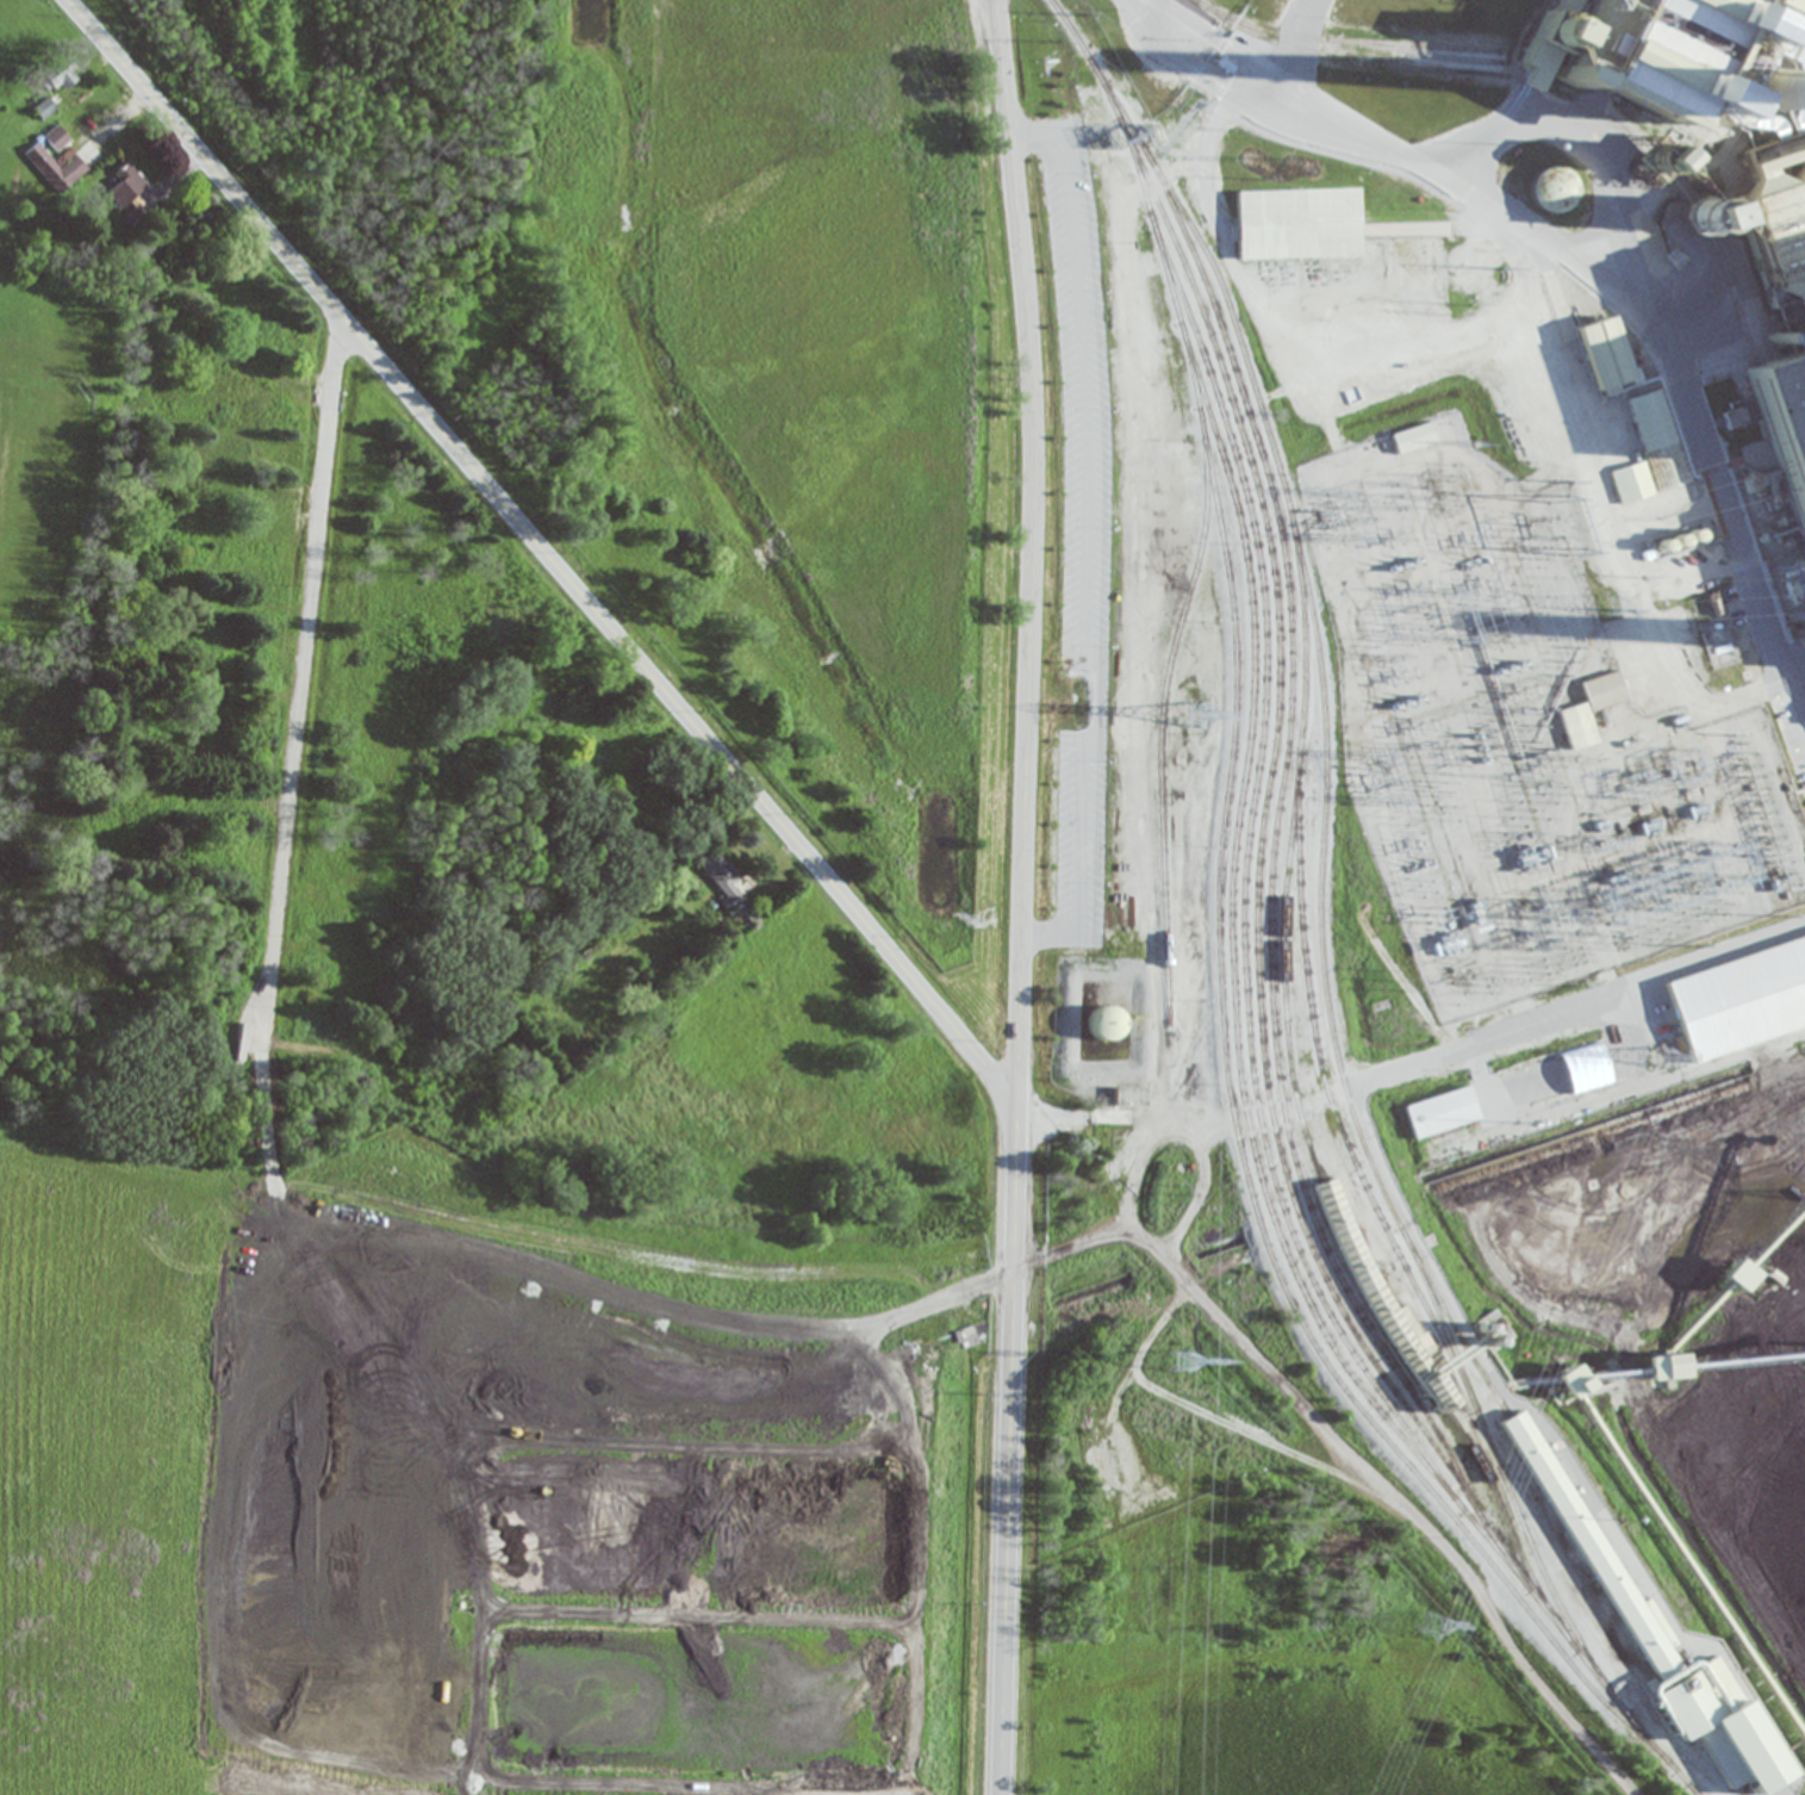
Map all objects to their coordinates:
building: (1642, 6)
building: (1445, 17)
railway: (1349, 39)
building: (702, 46)
building: (1632, 51)
railway: (1420, 52)
building: (1773, 89)
chimney: (1766, 95)
building: (1443, 101)
building: (44, 107)
railway: (1631, 135)
building: (56, 138)
building: (1801, 148)
railway: (1601, 156)
building: (1656, 159)
building: (56, 166)
building: (127, 190)
building: (1551, 191)
building: (1699, 210)
building: (1296, 223)
road: (1591, 282)
building: (1358, 284)
building: (1799, 297)
building: (1481, 310)
building: (1601, 354)
building: (1500, 360)
building: (1521, 403)
building: (1785, 417)
building: (1734, 418)
building: (1537, 434)
building: (1412, 439)
building: (1651, 453)
building: (229, 461)
building: (1673, 542)
road: (543, 552)
road: (301, 679)
building: (1591, 707)
power tower: (1190, 713)
railway: (1160, 722)
power substation: (1518, 735)
railway: (1264, 801)
railway: (1249, 830)
railway: (1271, 853)
building: (724, 878)
road: (1023, 896)
power plant: (932, 917)
road: (1706, 951)
railway: (1322, 961)
building: (1736, 1002)
building: (1103, 1025)
power tower: (1658, 1060)
railway: (1239, 1080)
building: (1129, 1097)
building: (1440, 1112)
railway: (1232, 1118)
railway: (1345, 1144)
railway: (1340, 1230)
railway: (1438, 1316)
power tower: (1184, 1360)
building: (1586, 1546)
power tower: (1429, 1621)
building: (1716, 1721)

